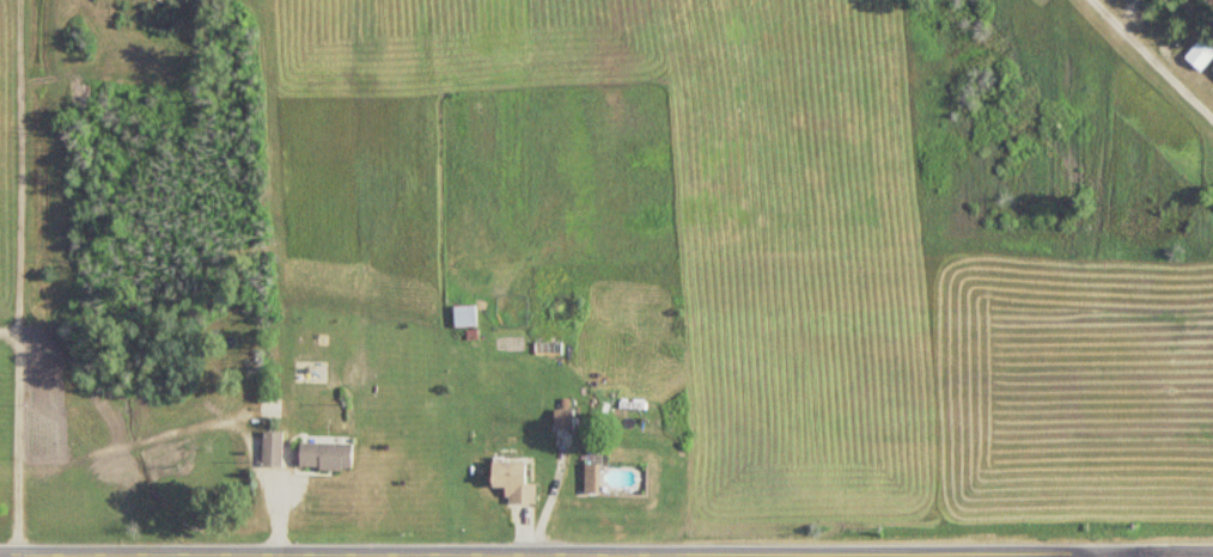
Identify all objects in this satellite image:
building: (1200, 55)
road: (1154, 56)
building: (1212, 69)
road: (13, 277)
building: (464, 316)
building: (563, 418)
building: (273, 449)
building: (325, 457)
building: (592, 478)
building: (513, 482)
road: (606, 555)
road: (48, 556)
road: (366, 556)
road: (414, 556)
road: (1096, 556)

